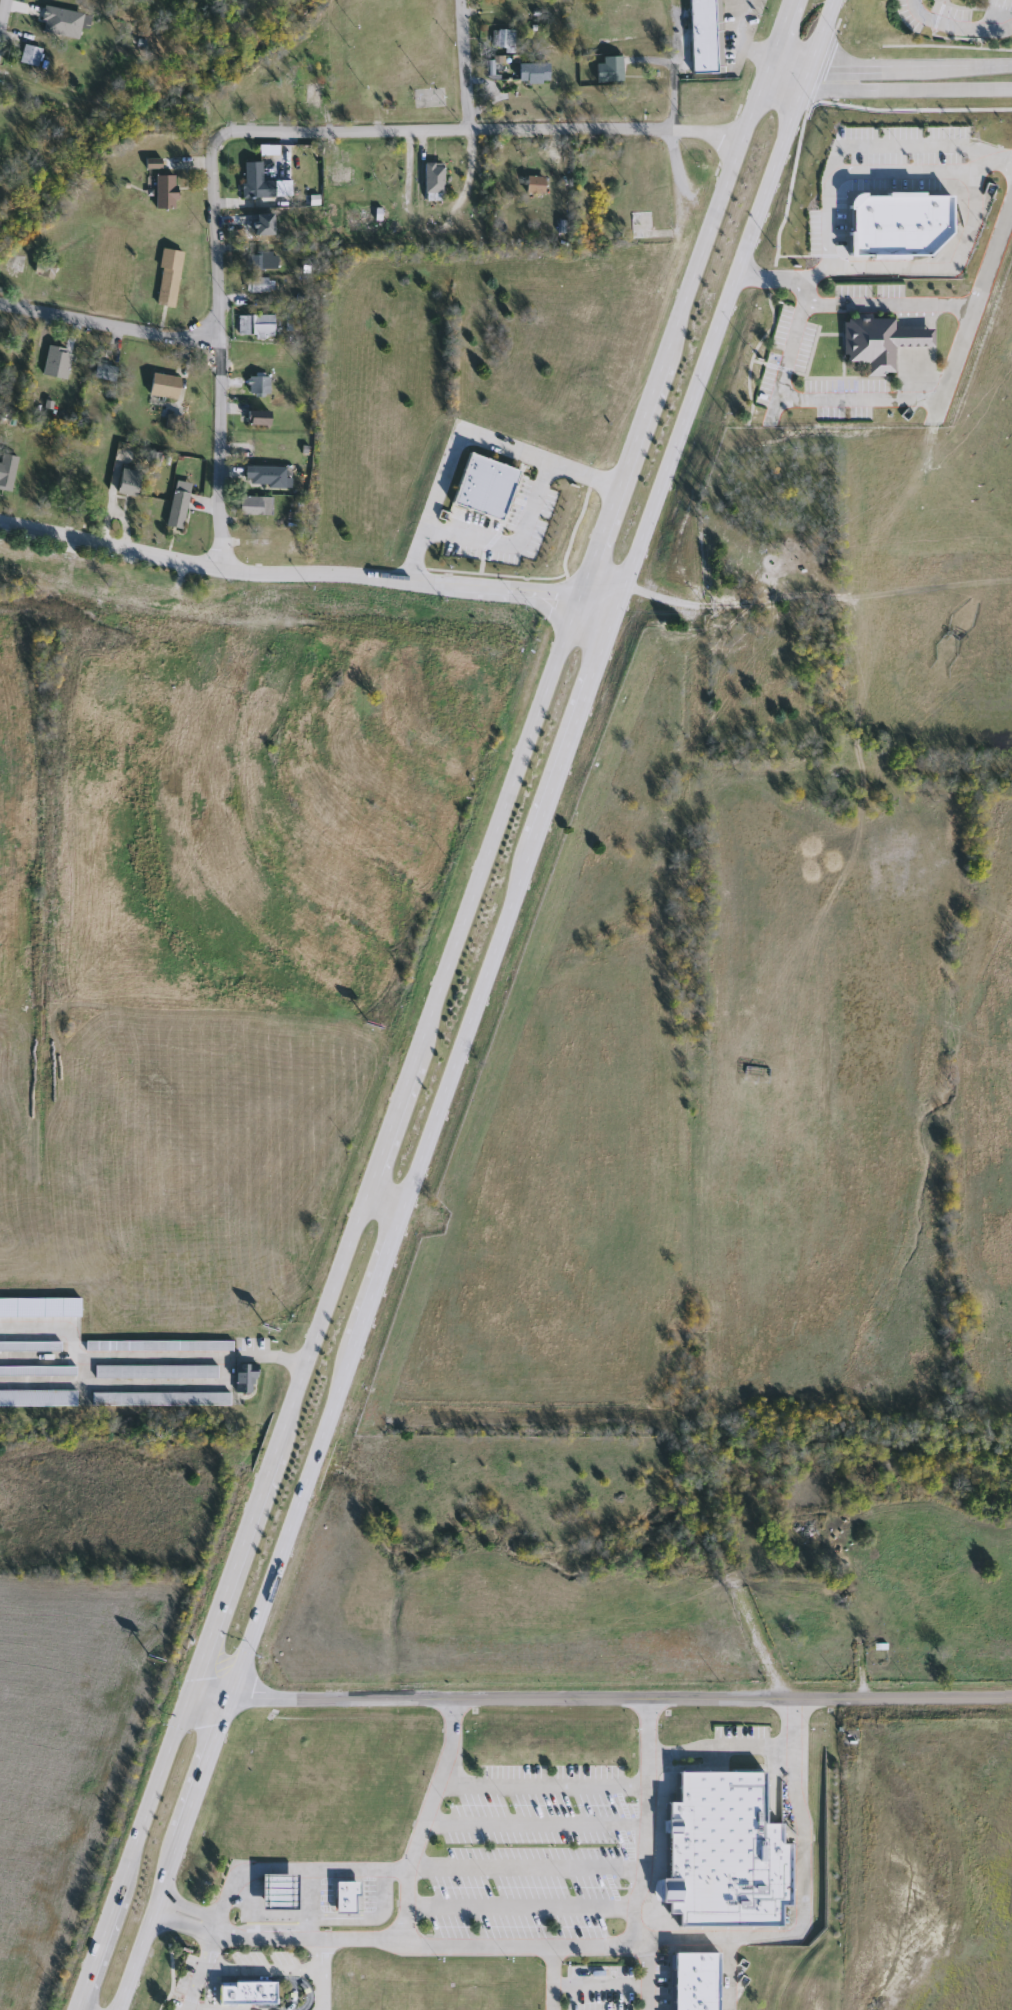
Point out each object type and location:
park: (240, 6)
road: (2, 11)
road: (956, 23)
road: (738, 31)
building: (704, 36)
building: (503, 41)
road: (751, 48)
building: (29, 55)
road: (464, 65)
building: (609, 69)
road: (777, 71)
road: (905, 72)
building: (532, 73)
road: (671, 77)
building: (311, 95)
road: (482, 129)
road: (928, 167)
building: (340, 175)
building: (255, 182)
building: (432, 182)
building: (534, 185)
building: (164, 192)
building: (903, 220)
building: (641, 226)
building: (263, 262)
building: (45, 269)
building: (167, 278)
building: (258, 285)
road: (888, 303)
building: (289, 322)
building: (254, 324)
road: (108, 325)
building: (878, 342)
road: (217, 344)
building: (279, 354)
building: (102, 371)
building: (163, 385)
building: (257, 385)
road: (871, 397)
building: (257, 417)
road: (456, 436)
building: (253, 447)
building: (6, 471)
building: (269, 476)
building: (127, 481)
building: (487, 484)
building: (254, 505)
building: (176, 508)
road: (518, 541)
building: (52, 566)
building: (95, 572)
road: (300, 574)
building: (125, 577)
road: (464, 1003)
road: (423, 1004)
road: (375, 1199)
building: (155, 1345)
building: (29, 1346)
road: (150, 1358)
building: (37, 1370)
building: (154, 1371)
building: (243, 1375)
road: (147, 1383)
building: (37, 1398)
building: (159, 1399)
road: (643, 1418)
road: (219, 1691)
road: (520, 1697)
road: (898, 1697)
road: (721, 1746)
road: (541, 1784)
road: (425, 1817)
road: (644, 1819)
road: (534, 1823)
building: (721, 1852)
road: (802, 1852)
road: (289, 1868)
road: (525, 1869)
building: (278, 1892)
building: (346, 1897)
road: (308, 1902)
road: (519, 1905)
road: (390, 1937)
road: (717, 1938)
road: (198, 1970)
road: (319, 1973)
road: (648, 1974)
road: (551, 1977)
building: (693, 1980)
building: (245, 1992)

